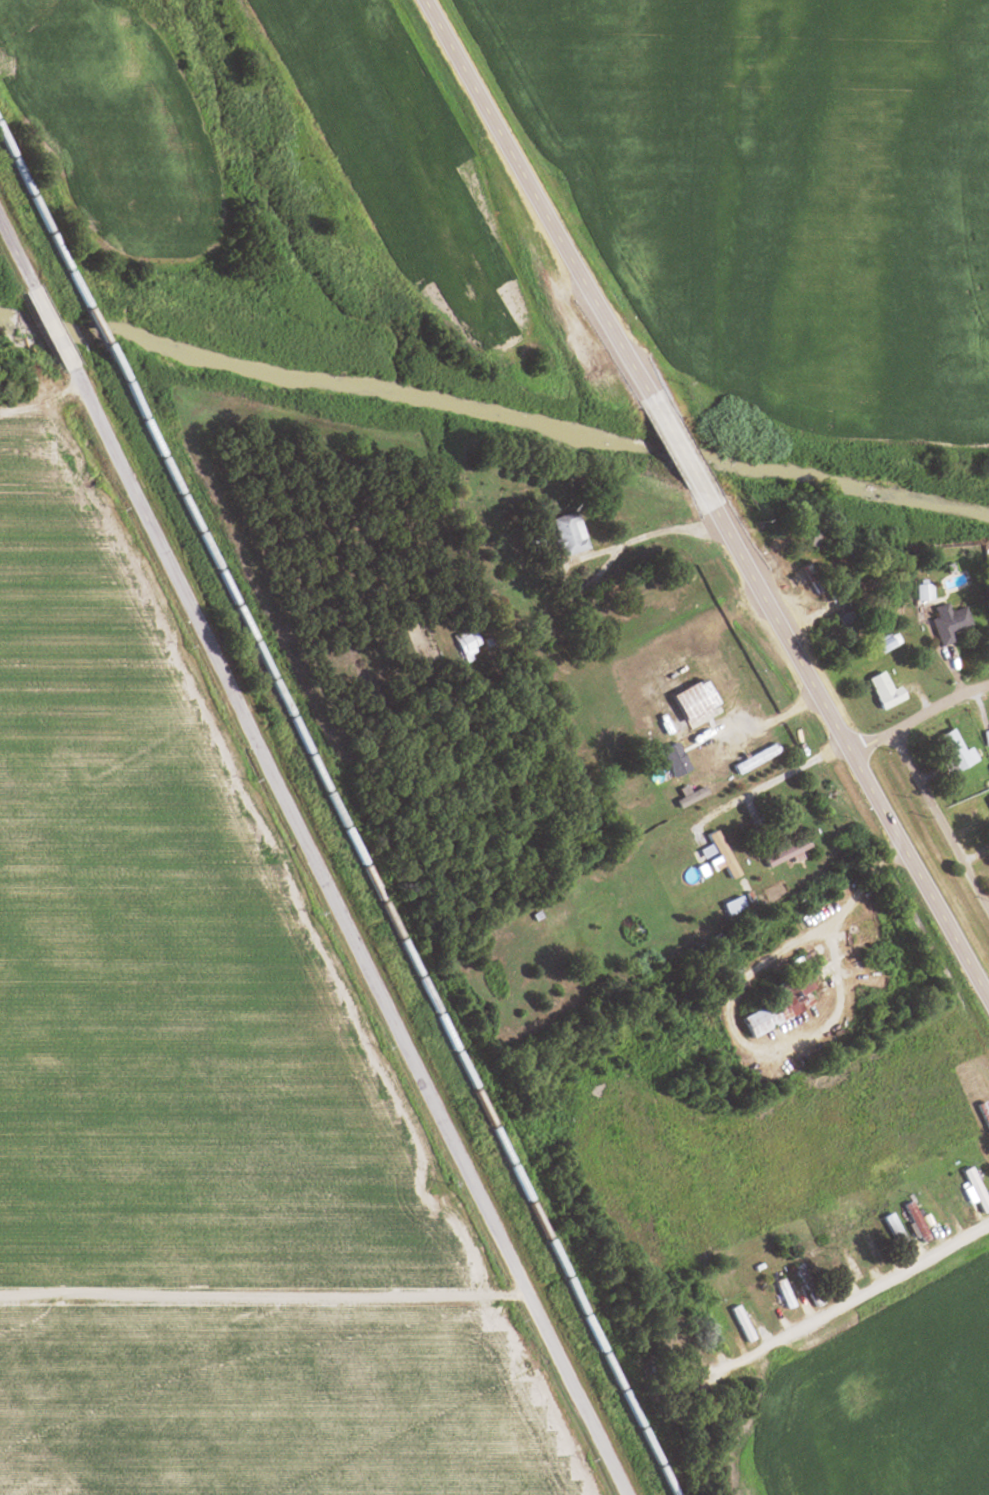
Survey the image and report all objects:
road: (43, 30)
railway: (46, 218)
road: (17, 254)
road: (53, 327)
railway: (104, 336)
road: (705, 502)
road: (84, 517)
building: (563, 534)
road: (639, 537)
building: (942, 623)
building: (465, 640)
building: (878, 643)
building: (877, 691)
building: (688, 705)
road: (914, 713)
road: (655, 737)
building: (984, 738)
building: (950, 751)
building: (751, 760)
road: (747, 797)
building: (686, 798)
building: (985, 805)
road: (938, 826)
building: (780, 853)
building: (718, 854)
road: (860, 889)
building: (729, 906)
railway: (393, 929)
road: (340, 933)
road: (740, 985)
building: (771, 1003)
building: (970, 1190)
building: (892, 1235)
building: (847, 1266)
building: (819, 1269)
building: (802, 1285)
building: (779, 1293)
road: (258, 1298)
road: (840, 1303)
building: (738, 1324)
building: (716, 1333)

